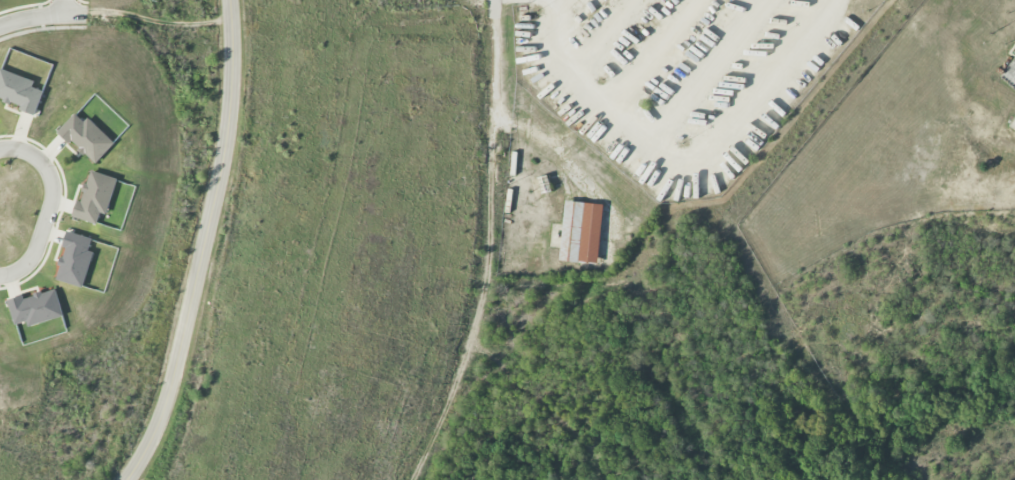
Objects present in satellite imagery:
road: (66, 8)
road: (43, 18)
building: (1014, 52)
road: (496, 58)
building: (19, 91)
building: (87, 138)
road: (682, 156)
building: (95, 197)
road: (50, 207)
building: (581, 232)
road: (201, 245)
building: (75, 259)
building: (36, 308)

